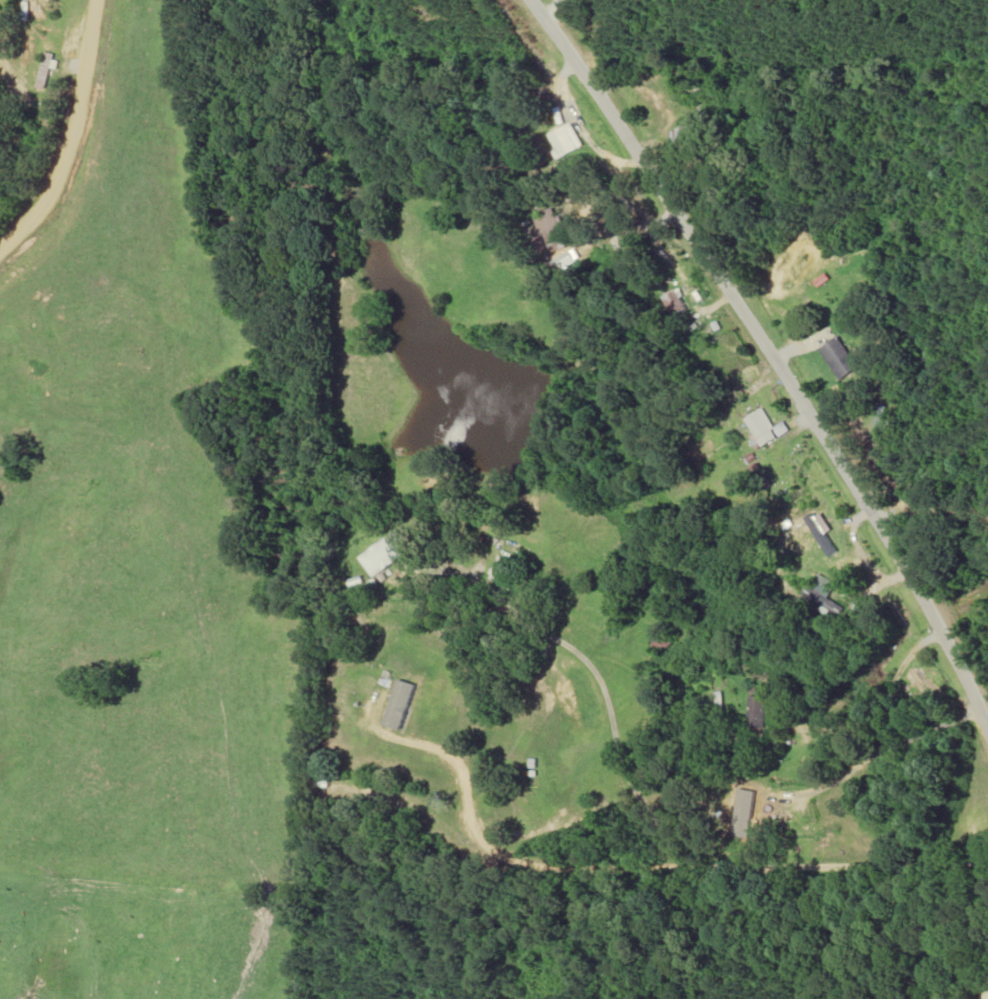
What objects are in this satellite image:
building: (45, 71)
road: (42, 126)
building: (680, 135)
building: (564, 140)
building: (548, 227)
building: (672, 302)
building: (836, 358)
road: (763, 378)
building: (761, 427)
building: (810, 535)
building: (383, 552)
building: (505, 570)
building: (820, 594)
building: (659, 644)
building: (754, 712)
building: (746, 810)
road: (663, 844)
building: (984, 994)

